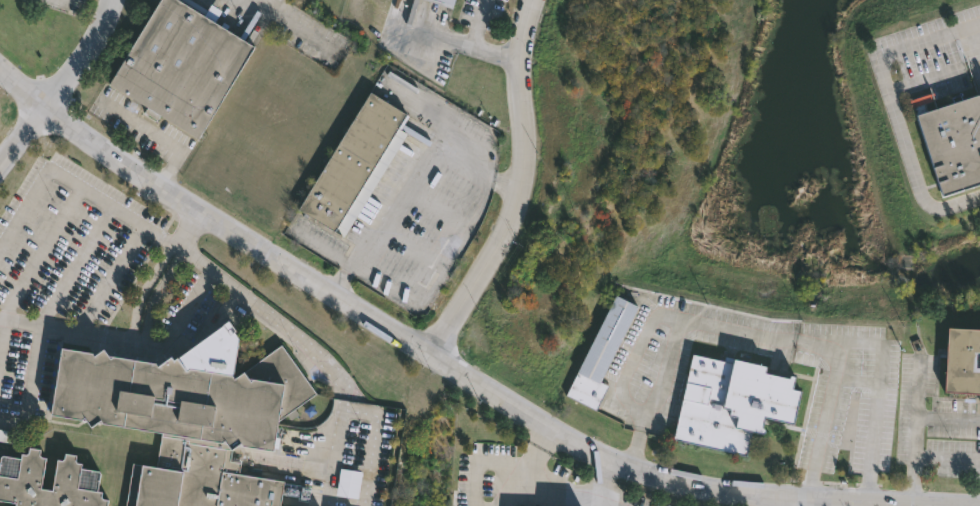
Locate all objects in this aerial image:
building: (445, 2)
road: (208, 7)
road: (244, 26)
road: (478, 42)
building: (181, 63)
road: (63, 87)
road: (895, 107)
road: (155, 138)
building: (952, 142)
building: (353, 167)
road: (76, 186)
road: (414, 186)
road: (518, 186)
road: (111, 278)
road: (151, 289)
road: (258, 305)
road: (20, 321)
road: (793, 333)
road: (145, 341)
building: (600, 353)
building: (963, 358)
road: (454, 367)
road: (30, 385)
road: (874, 398)
building: (731, 401)
road: (354, 412)
building: (187, 415)
road: (642, 415)
road: (916, 426)
building: (6, 437)
road: (633, 446)
road: (947, 456)
building: (465, 460)
road: (535, 477)
building: (73, 479)
road: (599, 488)
road: (773, 500)
road: (976, 502)
road: (976, 503)
road: (961, 504)

